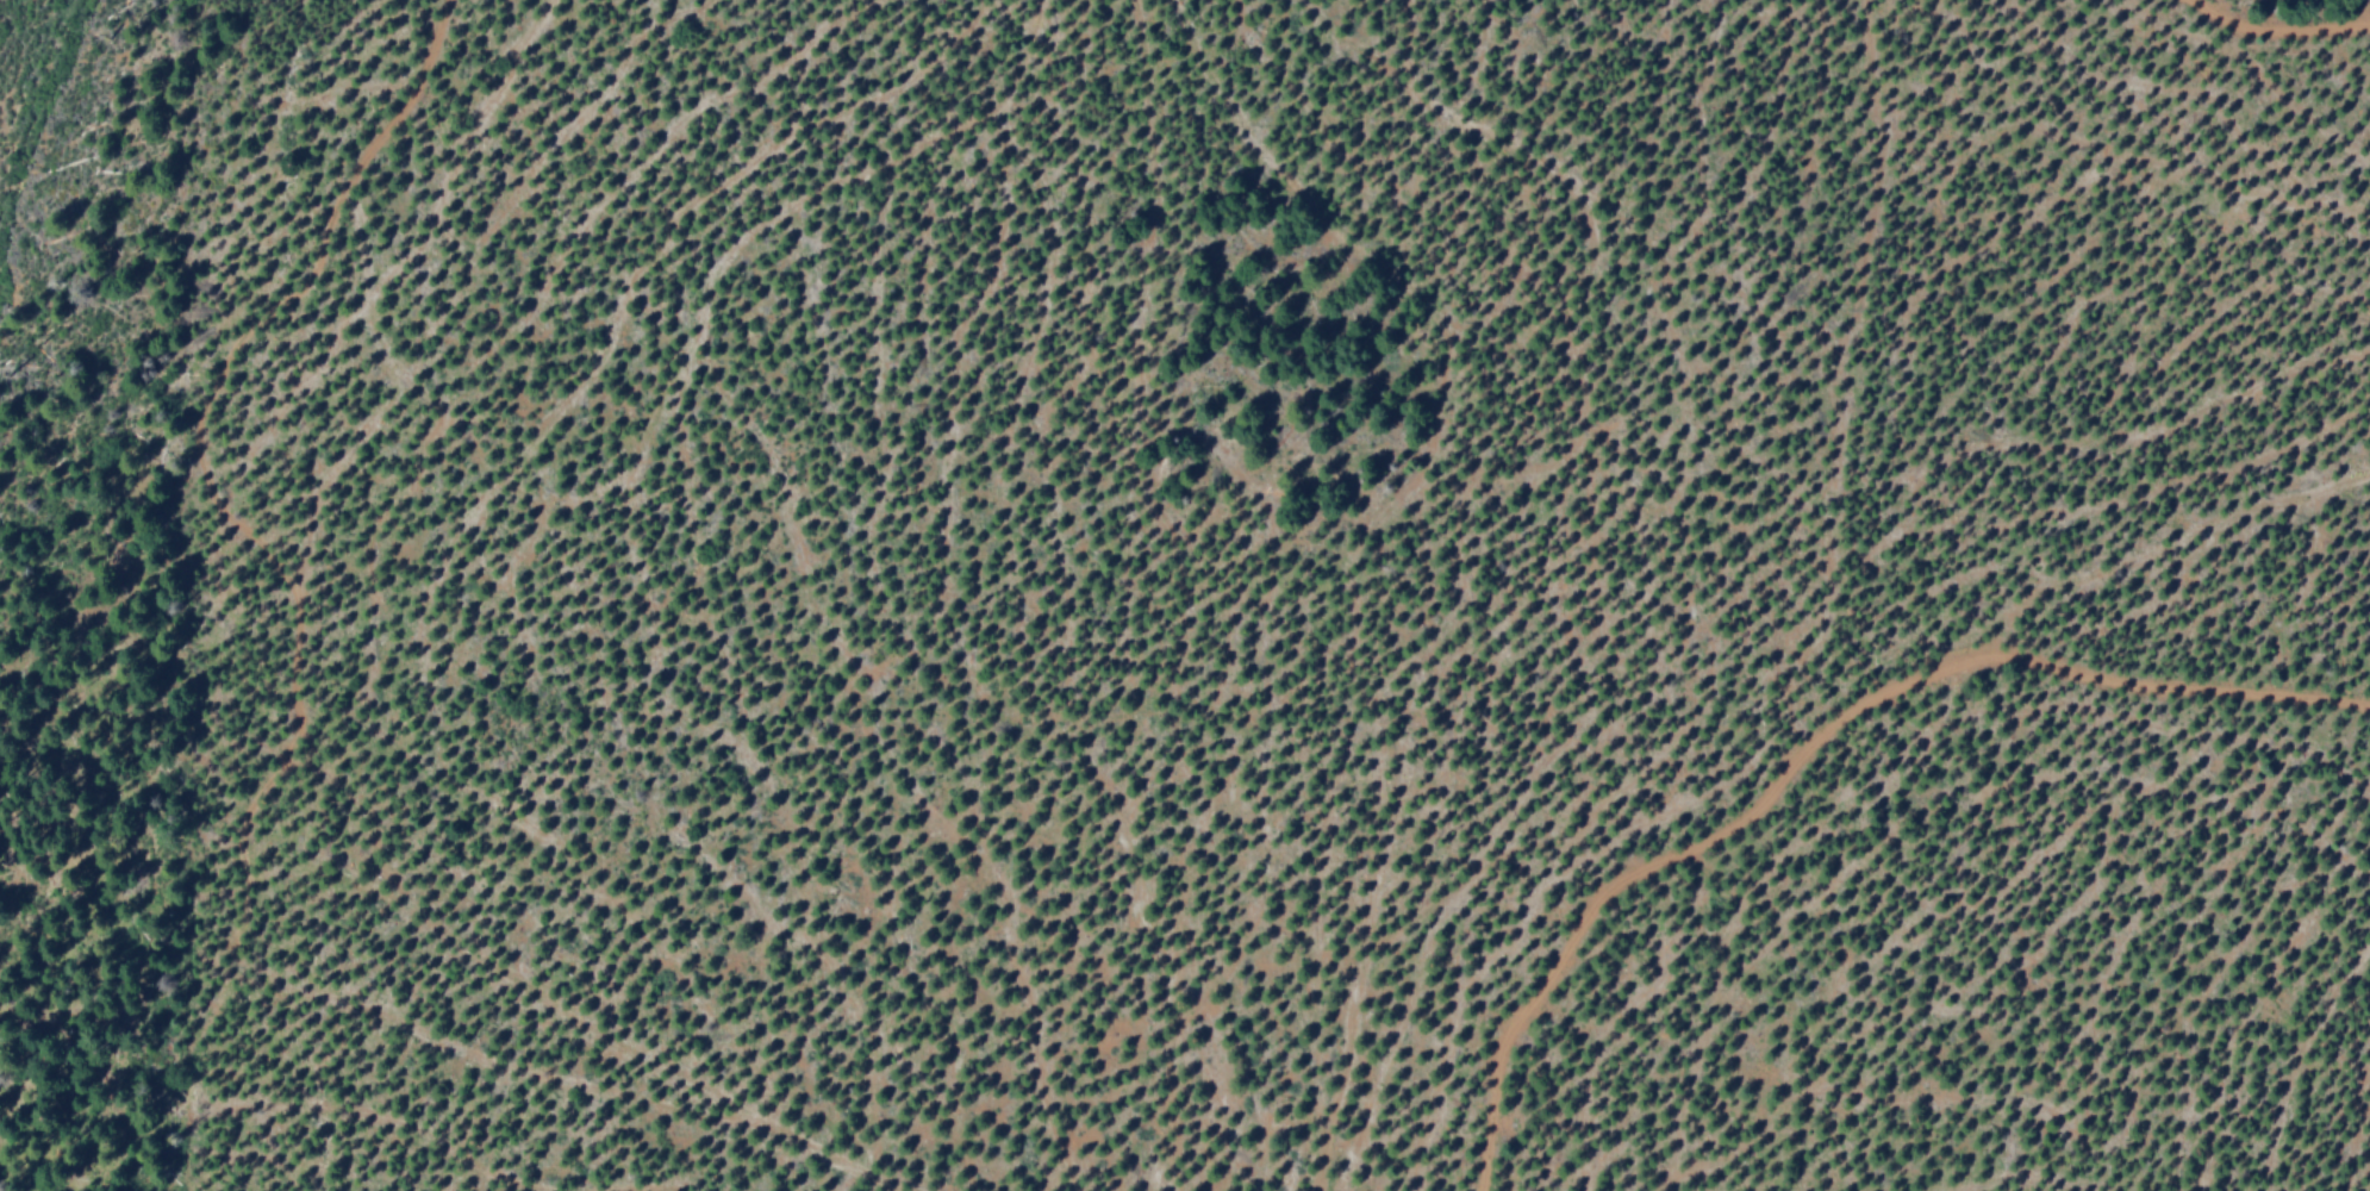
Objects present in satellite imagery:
road: (2279, 25)

